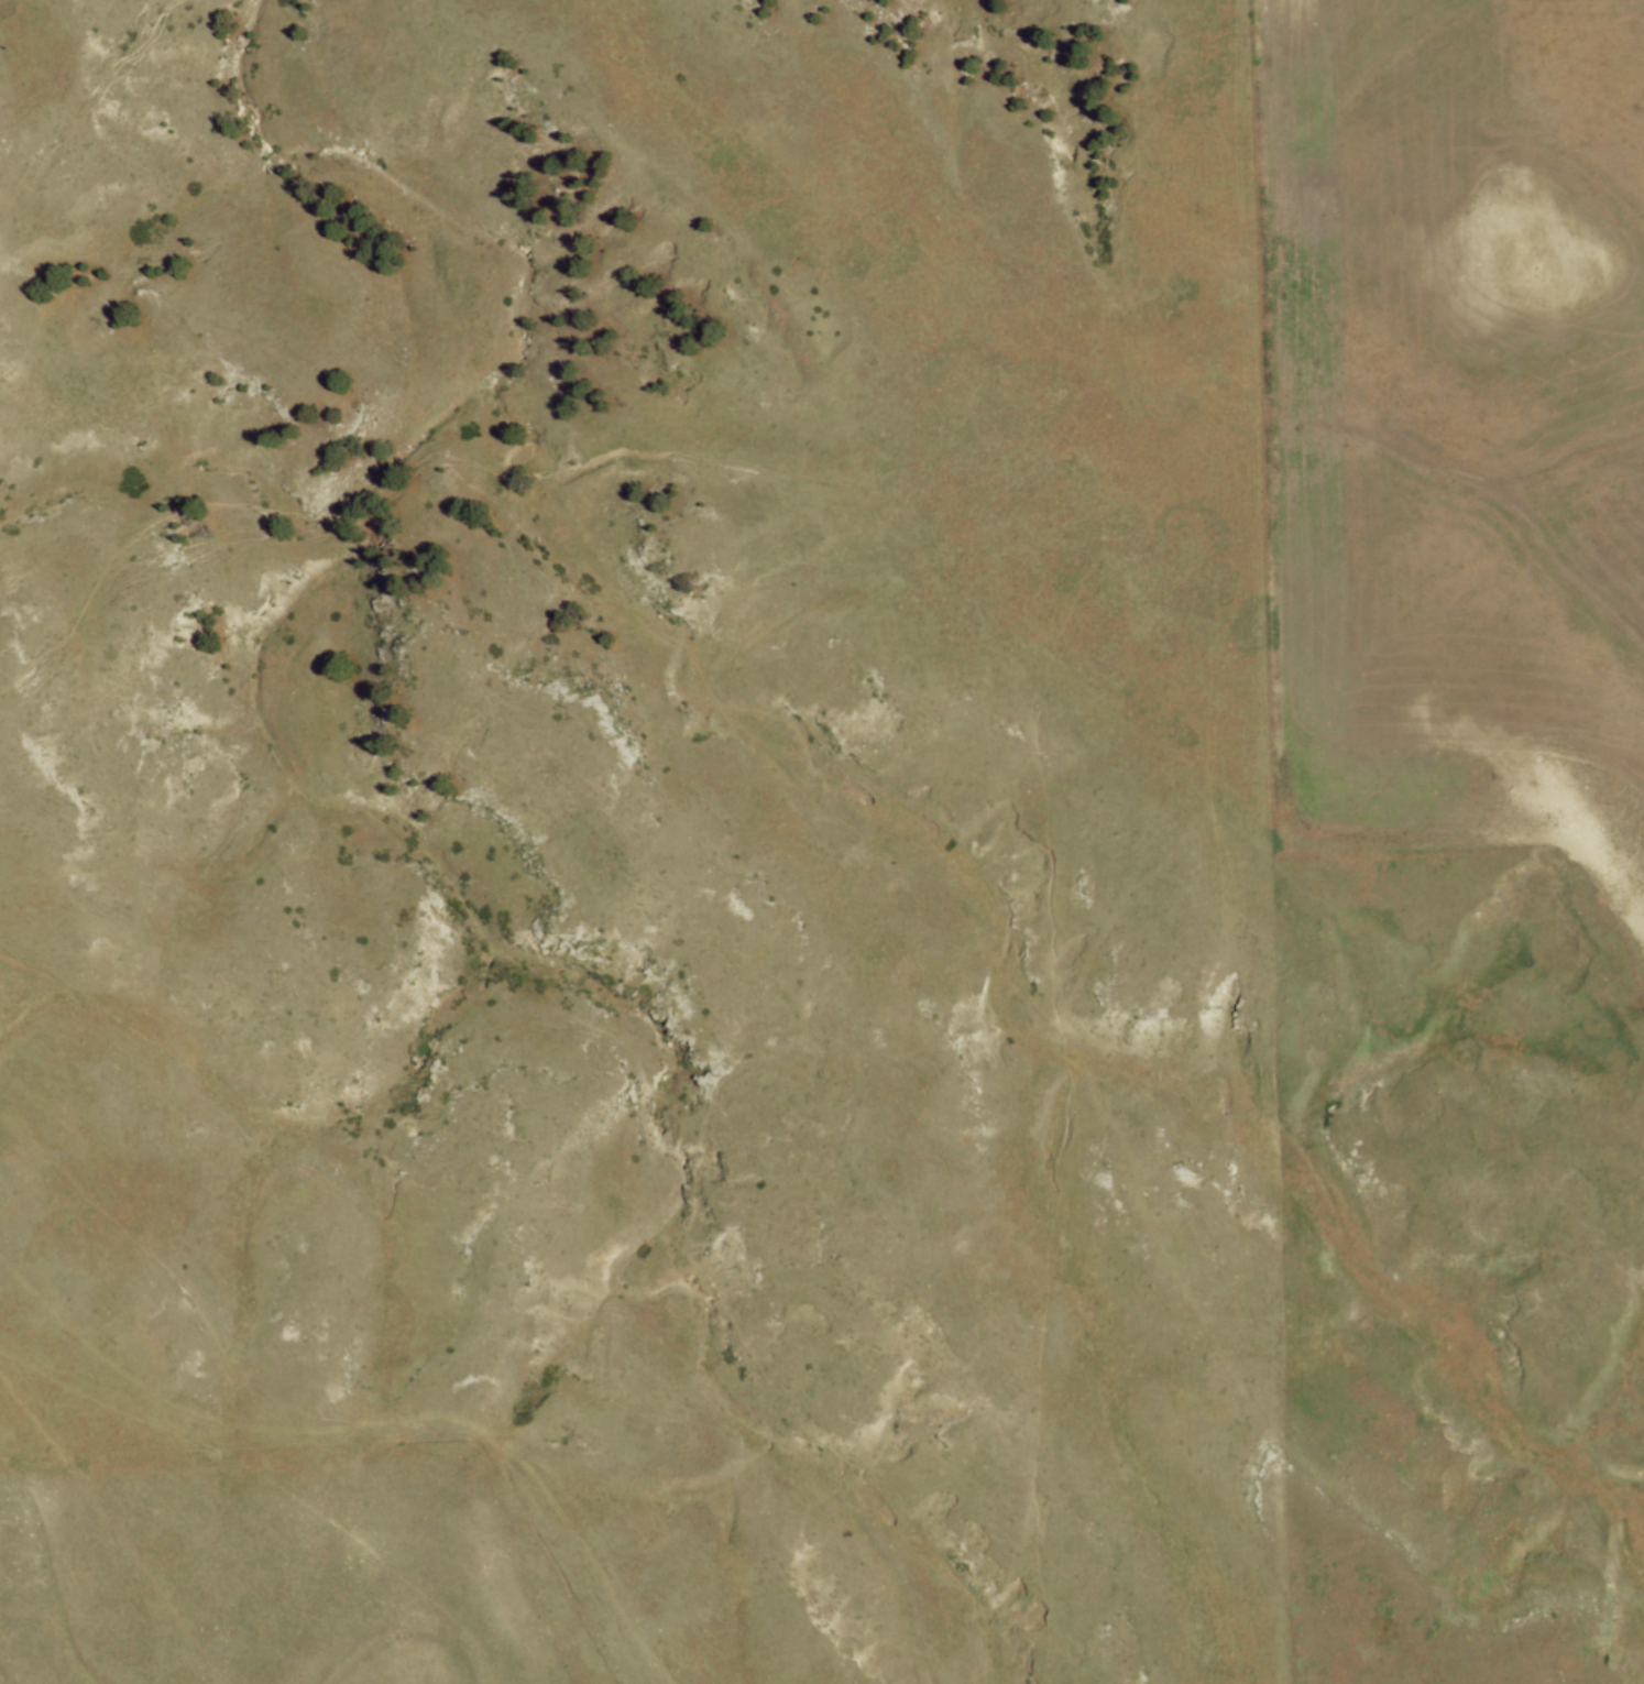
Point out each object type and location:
crop: (1458, 420)

